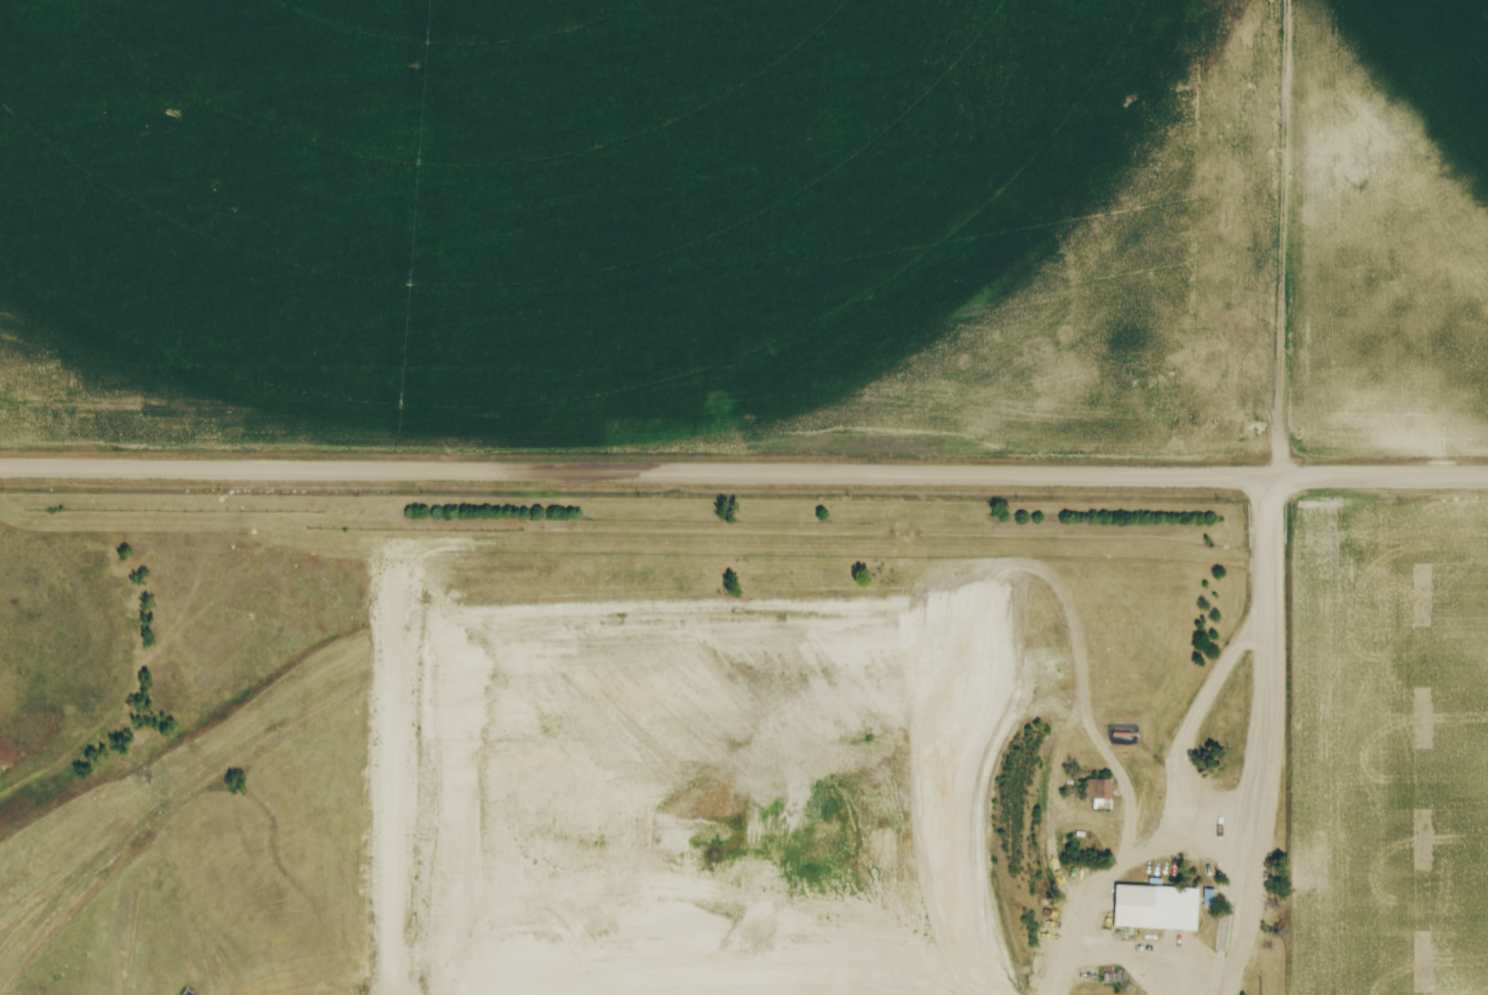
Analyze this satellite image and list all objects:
crop: (748, 225)
road: (743, 472)
road: (1188, 725)
building: (1120, 736)
road: (1263, 737)
crop: (1388, 748)
building: (1099, 793)
road: (1090, 907)
building: (1157, 912)
road: (562, 993)

